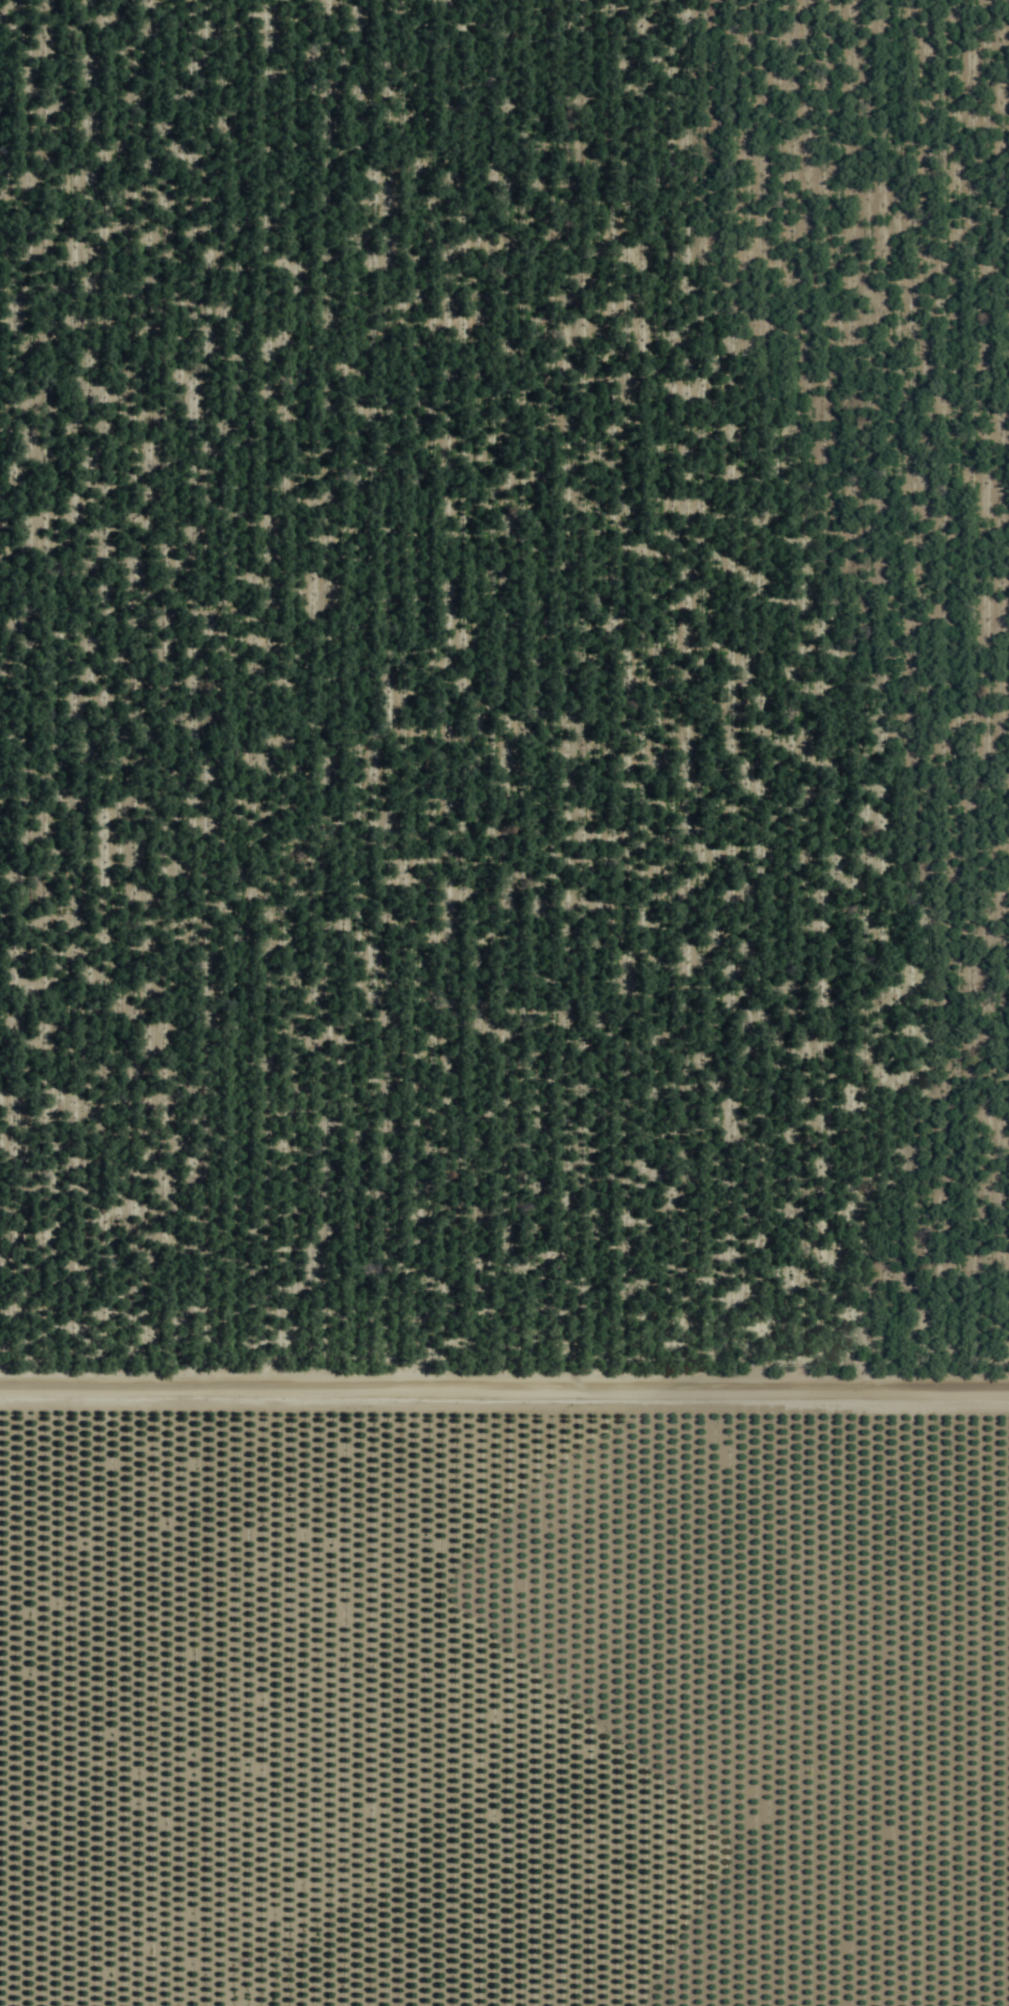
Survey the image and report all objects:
crop: (494, 1731)

